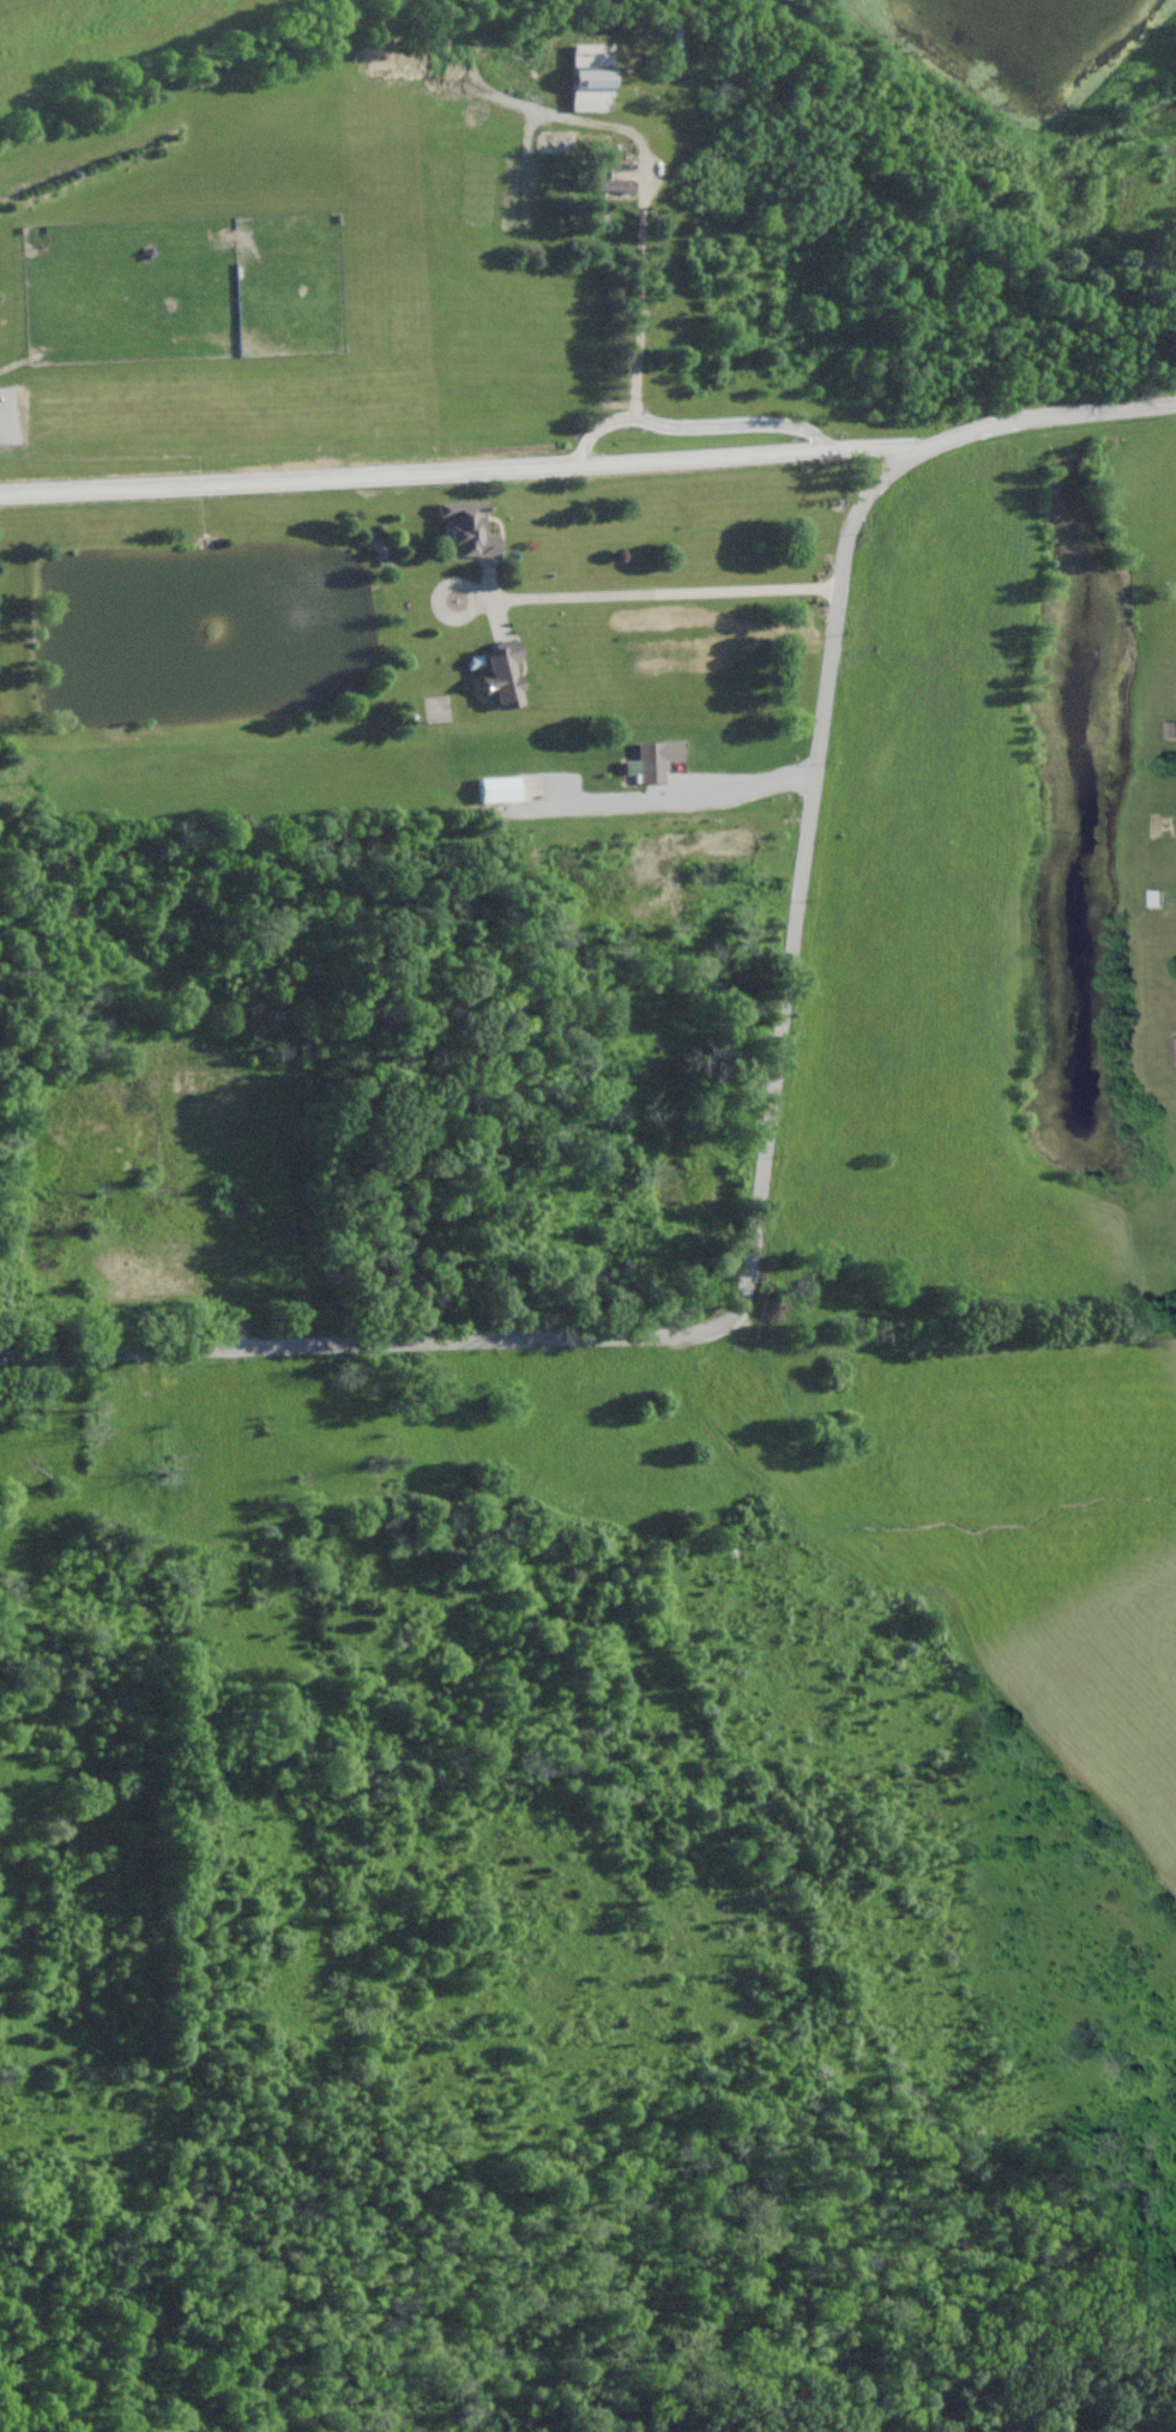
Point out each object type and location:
building: (591, 77)
building: (607, 186)
road: (641, 310)
road: (693, 426)
road: (458, 471)
building: (468, 526)
road: (647, 593)
building: (499, 671)
building: (655, 760)
building: (499, 789)
road: (685, 796)
road: (808, 844)
road: (1071, 1336)
road: (264, 1348)

